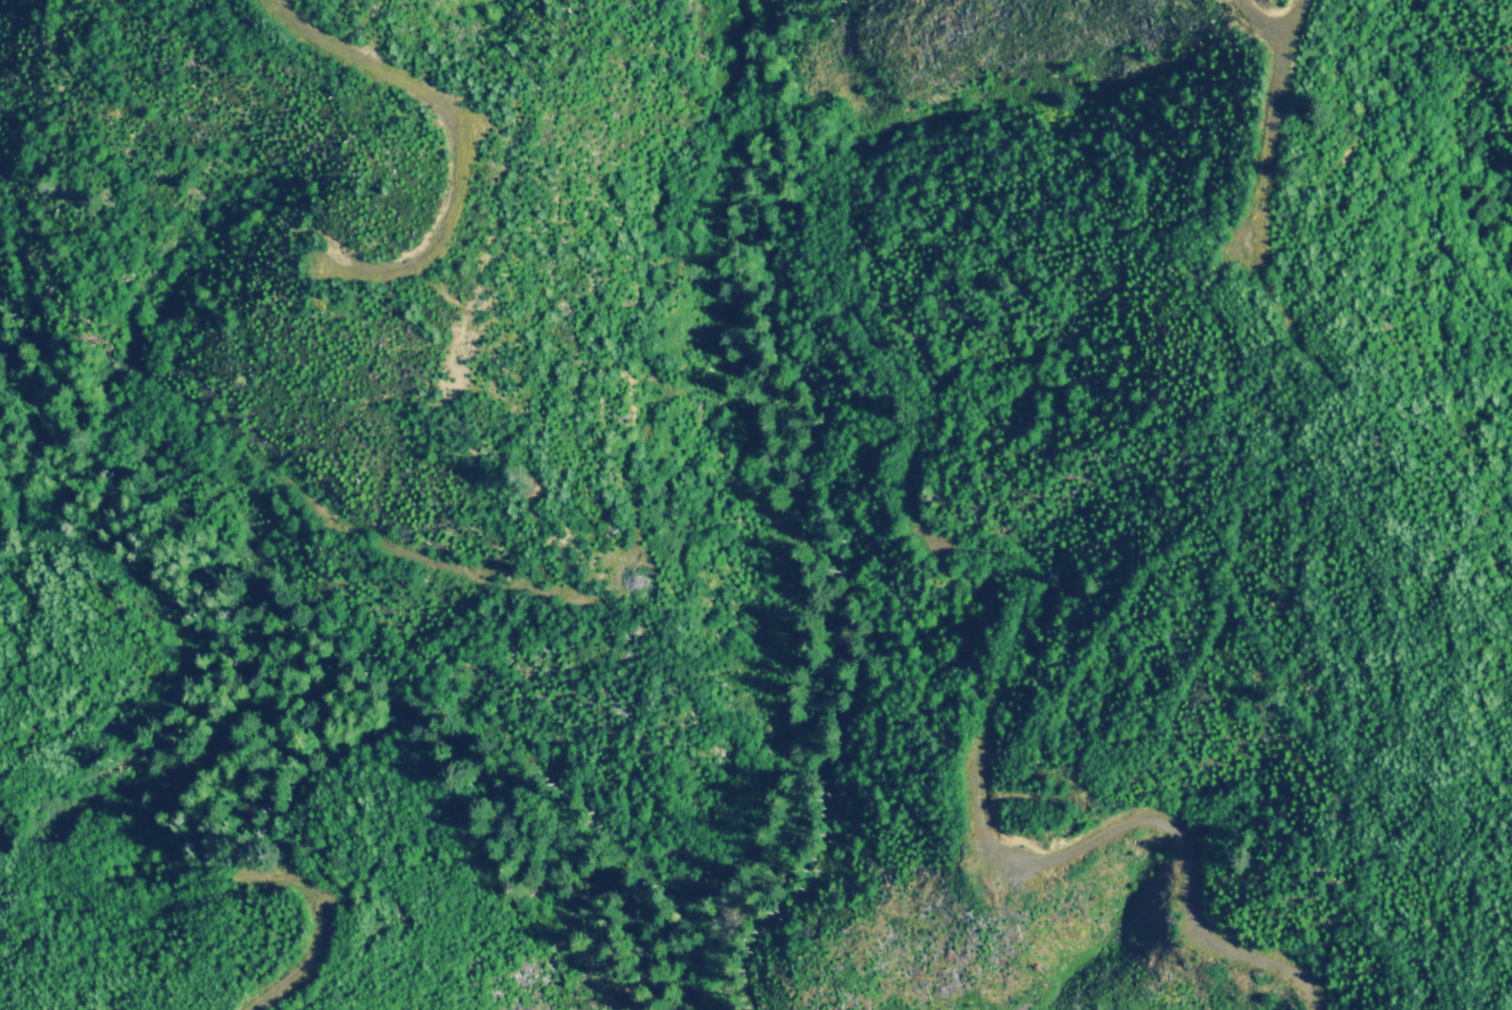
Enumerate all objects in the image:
road: (1102, 814)
road: (361, 913)

